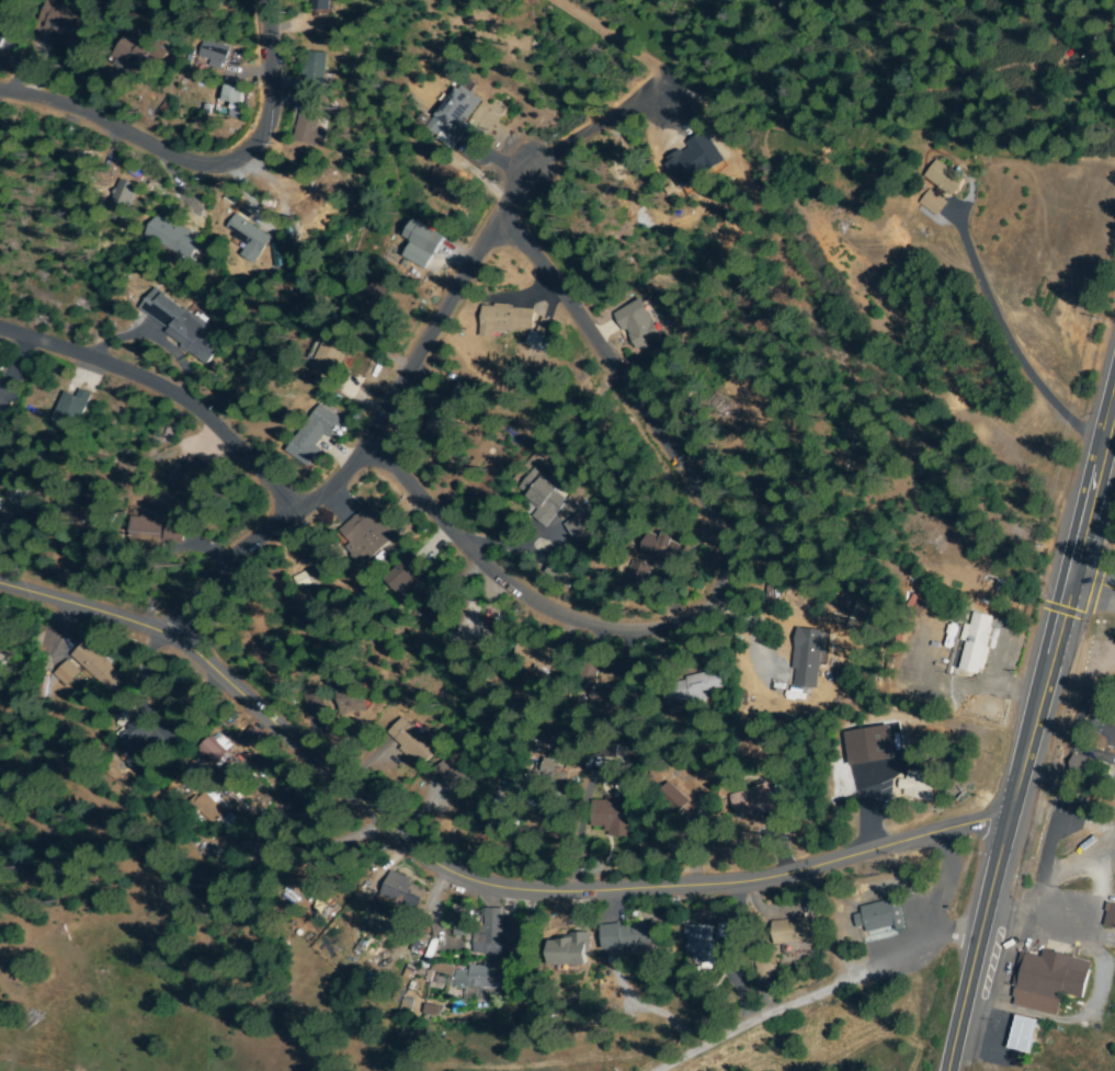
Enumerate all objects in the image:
building: (319, 2)
building: (7, 3)
building: (68, 26)
building: (0, 38)
building: (216, 54)
building: (137, 55)
building: (315, 71)
building: (235, 94)
building: (454, 116)
building: (309, 123)
road: (197, 166)
building: (684, 176)
building: (945, 178)
building: (448, 182)
building: (124, 196)
building: (934, 204)
building: (246, 235)
building: (172, 239)
building: (421, 243)
road: (806, 282)
building: (382, 304)
building: (508, 319)
building: (639, 322)
building: (180, 324)
building: (539, 333)
road: (1004, 341)
building: (328, 355)
road: (167, 392)
building: (463, 395)
building: (72, 408)
building: (442, 419)
road: (382, 422)
building: (314, 434)
building: (196, 479)
building: (18, 492)
building: (543, 495)
building: (92, 513)
building: (11, 520)
building: (581, 528)
building: (147, 529)
building: (179, 534)
building: (367, 535)
building: (663, 550)
building: (564, 574)
building: (410, 579)
building: (636, 580)
road: (1093, 585)
road: (720, 588)
building: (474, 627)
building: (976, 645)
building: (541, 657)
building: (806, 658)
building: (96, 665)
building: (589, 672)
building: (67, 673)
building: (691, 690)
building: (350, 698)
building: (611, 698)
road: (1031, 737)
building: (411, 742)
building: (139, 747)
building: (213, 750)
building: (572, 762)
building: (1081, 765)
building: (546, 776)
building: (455, 779)
building: (920, 785)
building: (672, 799)
building: (753, 802)
building: (207, 808)
building: (614, 813)
building: (659, 840)
road: (463, 876)
building: (403, 891)
building: (879, 915)
building: (1110, 916)
building: (457, 930)
building: (490, 931)
building: (723, 931)
building: (792, 931)
building: (627, 936)
building: (699, 941)
building: (569, 952)
building: (763, 969)
building: (473, 978)
building: (1047, 980)
road: (826, 993)
building: (1020, 1034)

